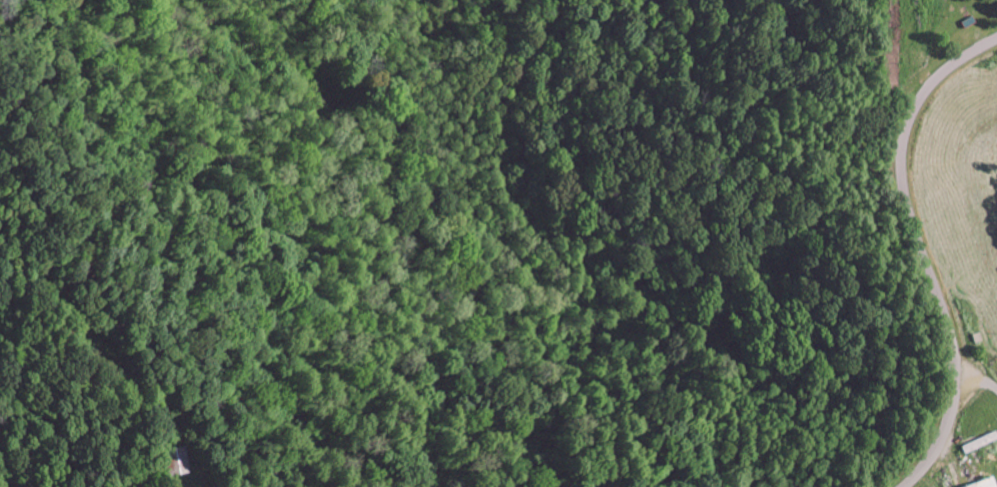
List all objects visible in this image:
road: (919, 248)
building: (986, 483)

